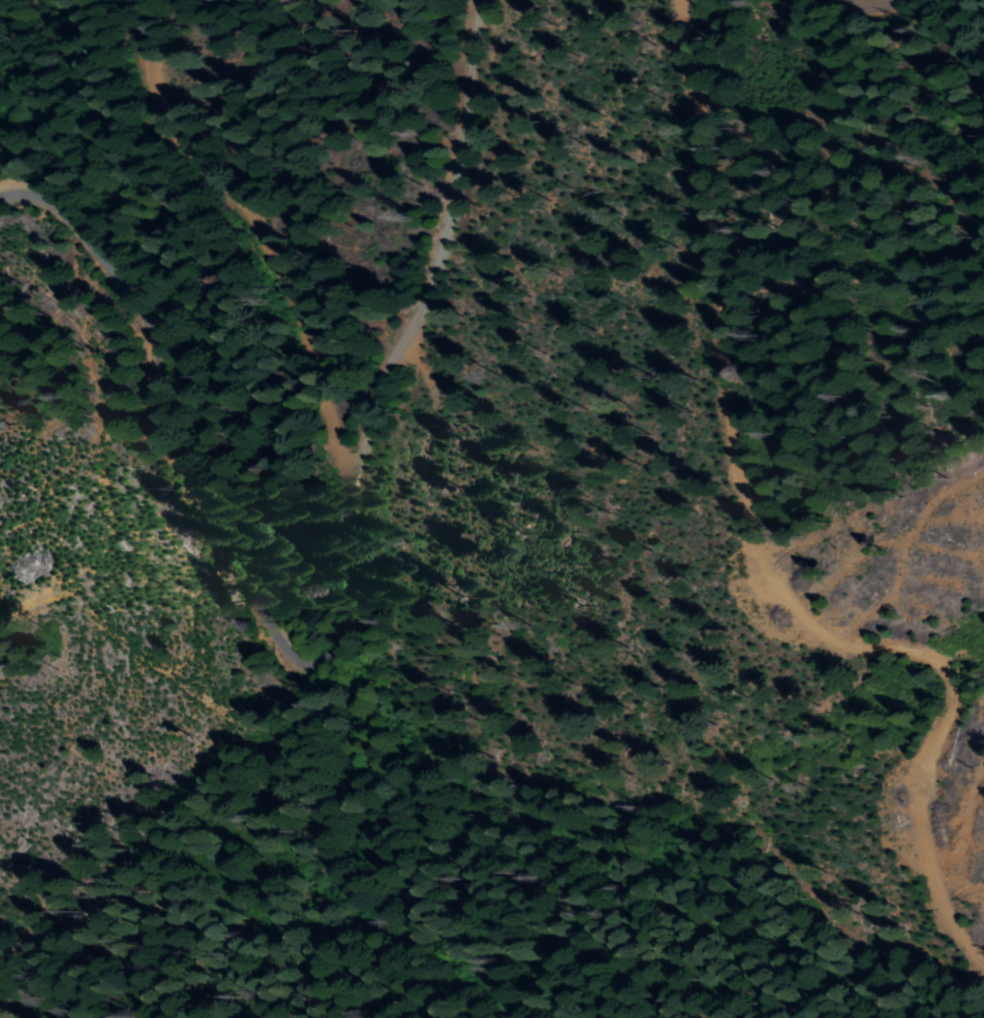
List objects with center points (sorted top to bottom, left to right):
road: (857, 4)
road: (744, 509)
road: (337, 638)

